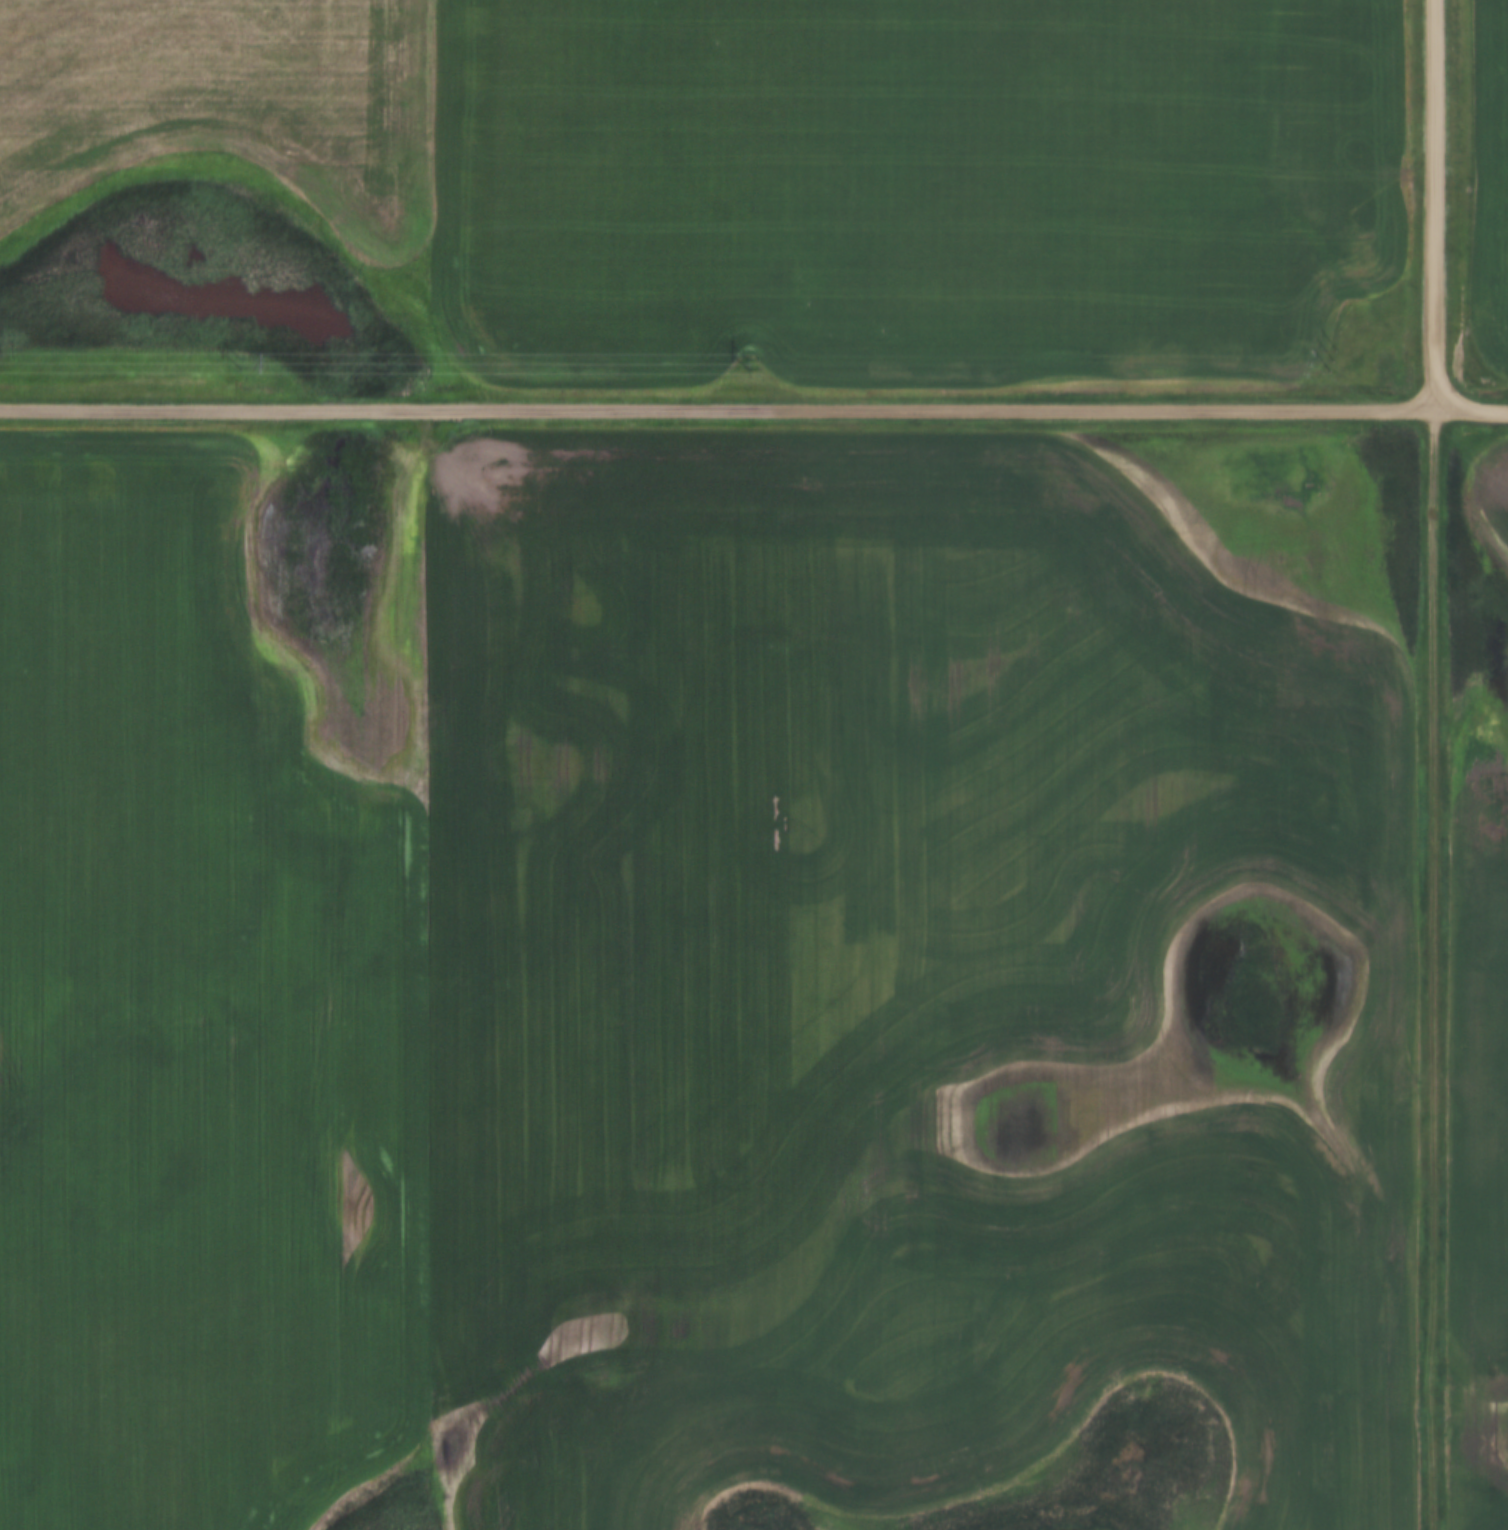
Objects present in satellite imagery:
road: (1432, 204)
road: (754, 408)
road: (1434, 968)

